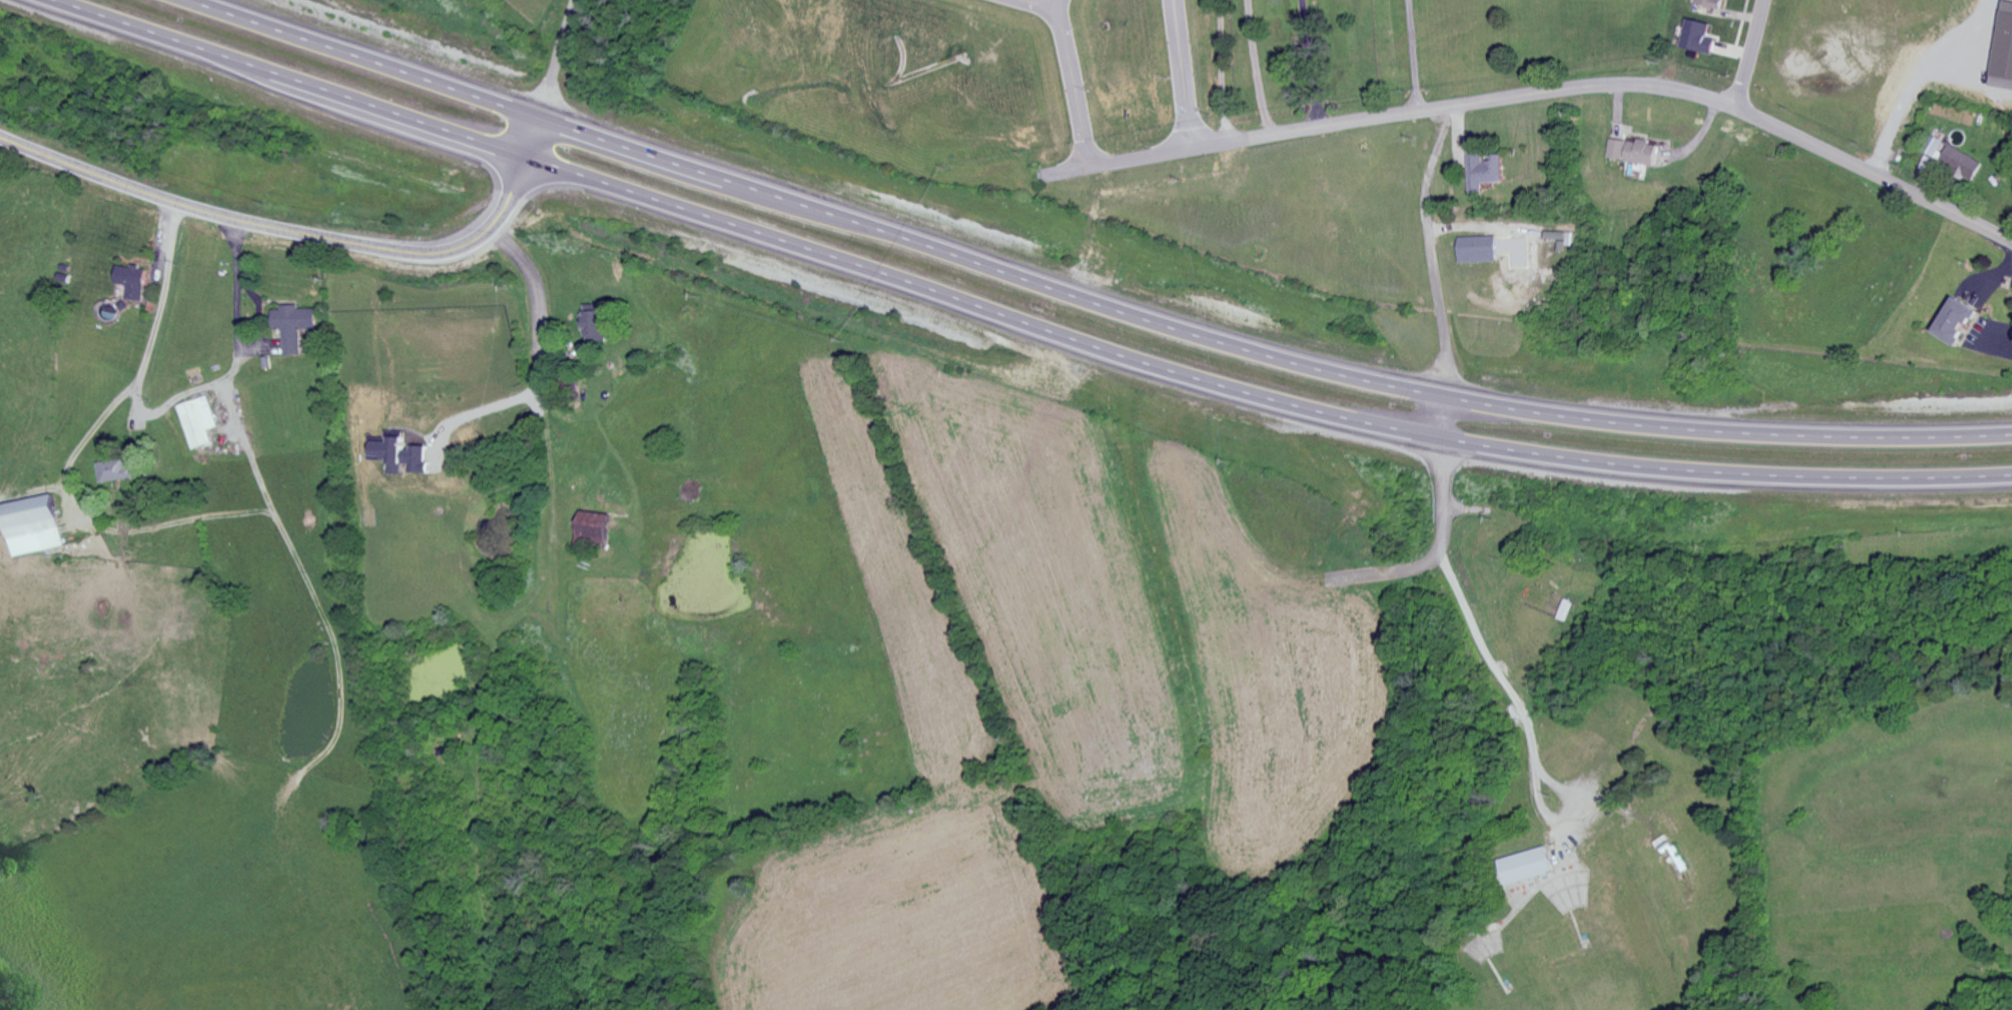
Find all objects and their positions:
road: (1044, 4)
building: (1712, 4)
building: (1699, 38)
road: (1749, 52)
building: (2004, 54)
road: (1411, 55)
road: (554, 57)
road: (1309, 62)
road: (1224, 70)
road: (1183, 73)
road: (1919, 76)
road: (1073, 82)
road: (1546, 89)
building: (1618, 150)
building: (1643, 153)
building: (1962, 164)
building: (1486, 172)
road: (300, 232)
building: (1547, 239)
building: (1479, 250)
building: (133, 283)
road: (528, 283)
road: (1084, 299)
road: (1016, 322)
building: (1960, 322)
building: (595, 324)
building: (296, 327)
road: (164, 408)
building: (201, 423)
road: (84, 440)
building: (117, 472)
road: (1446, 505)
building: (34, 526)
building: (596, 530)
building: (1526, 867)

